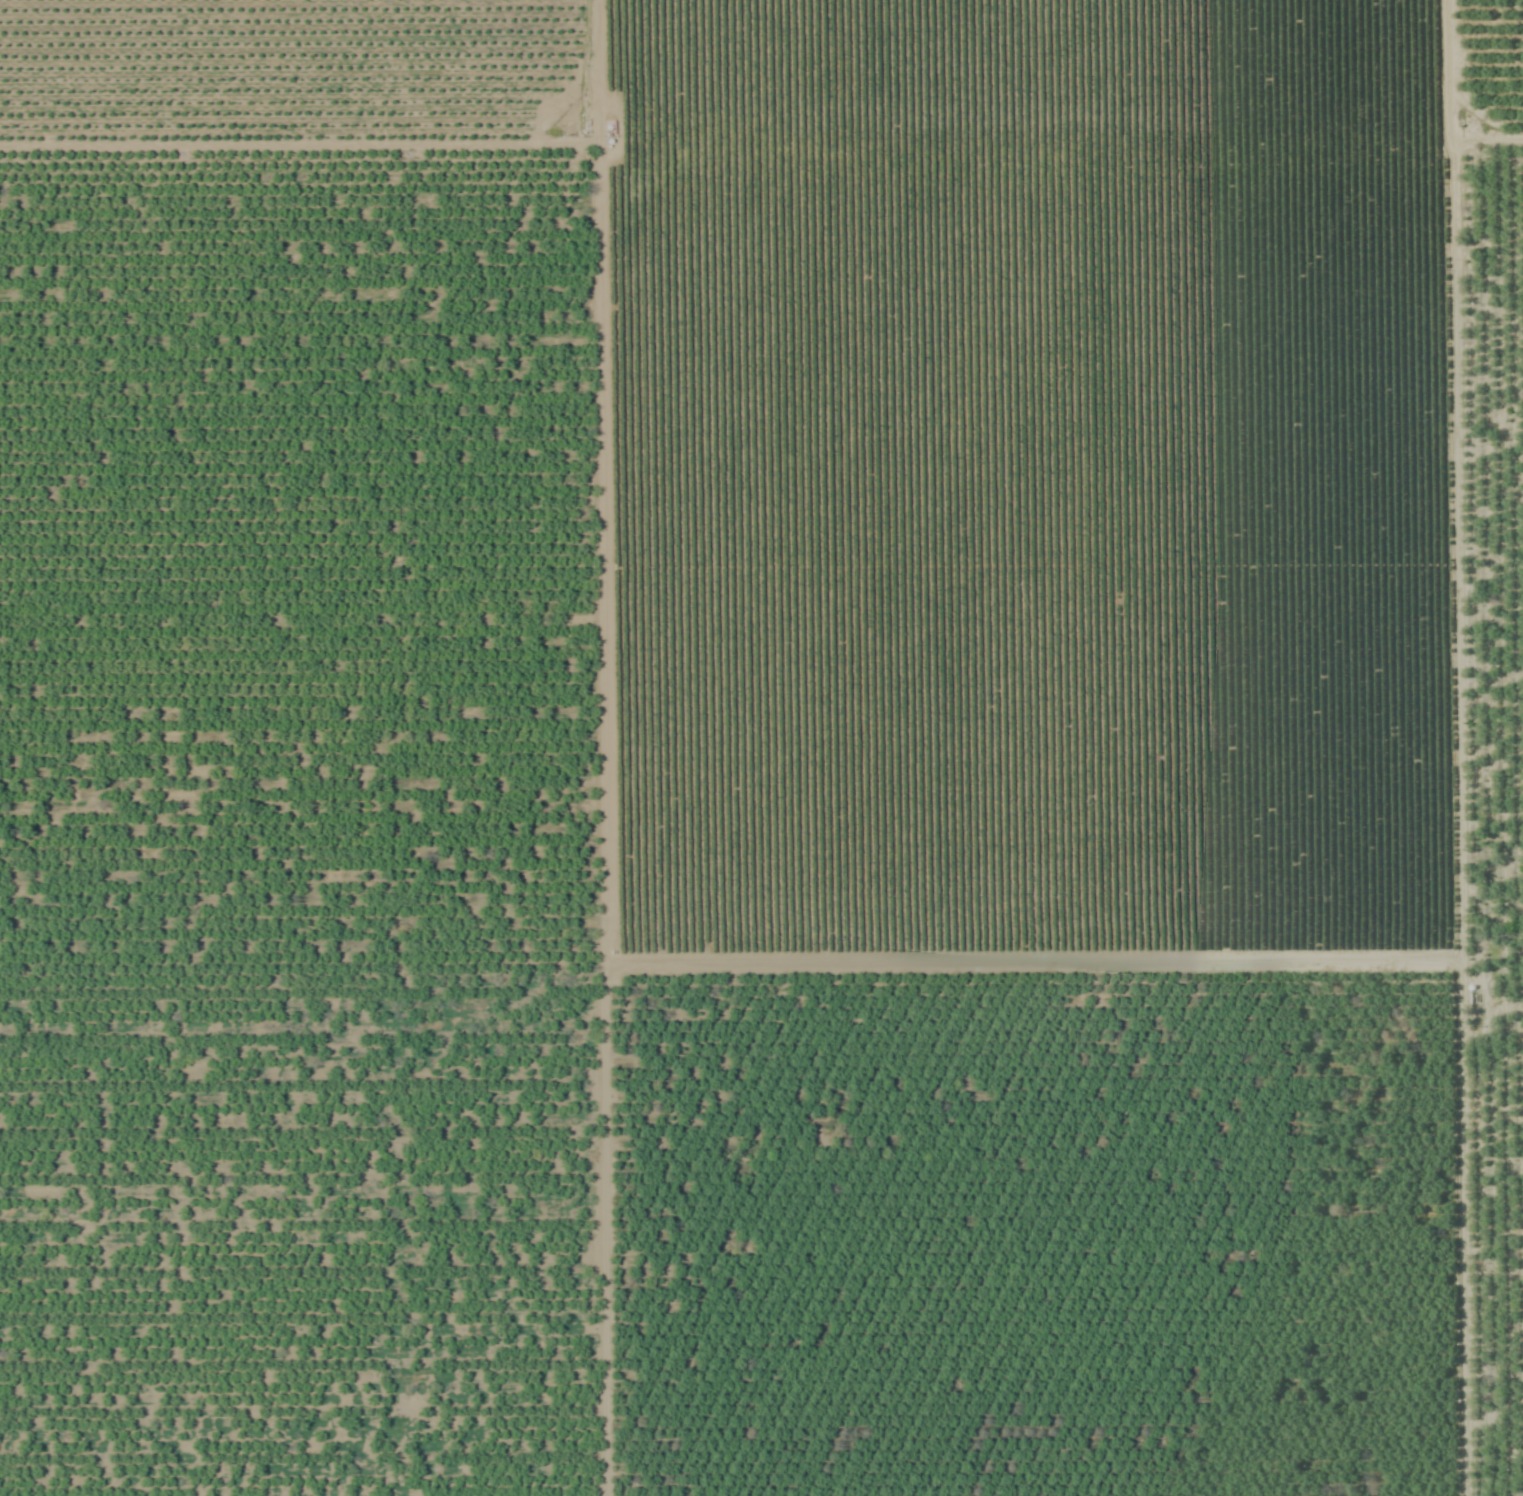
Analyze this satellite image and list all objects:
crop: (761, 748)
road: (1459, 789)

